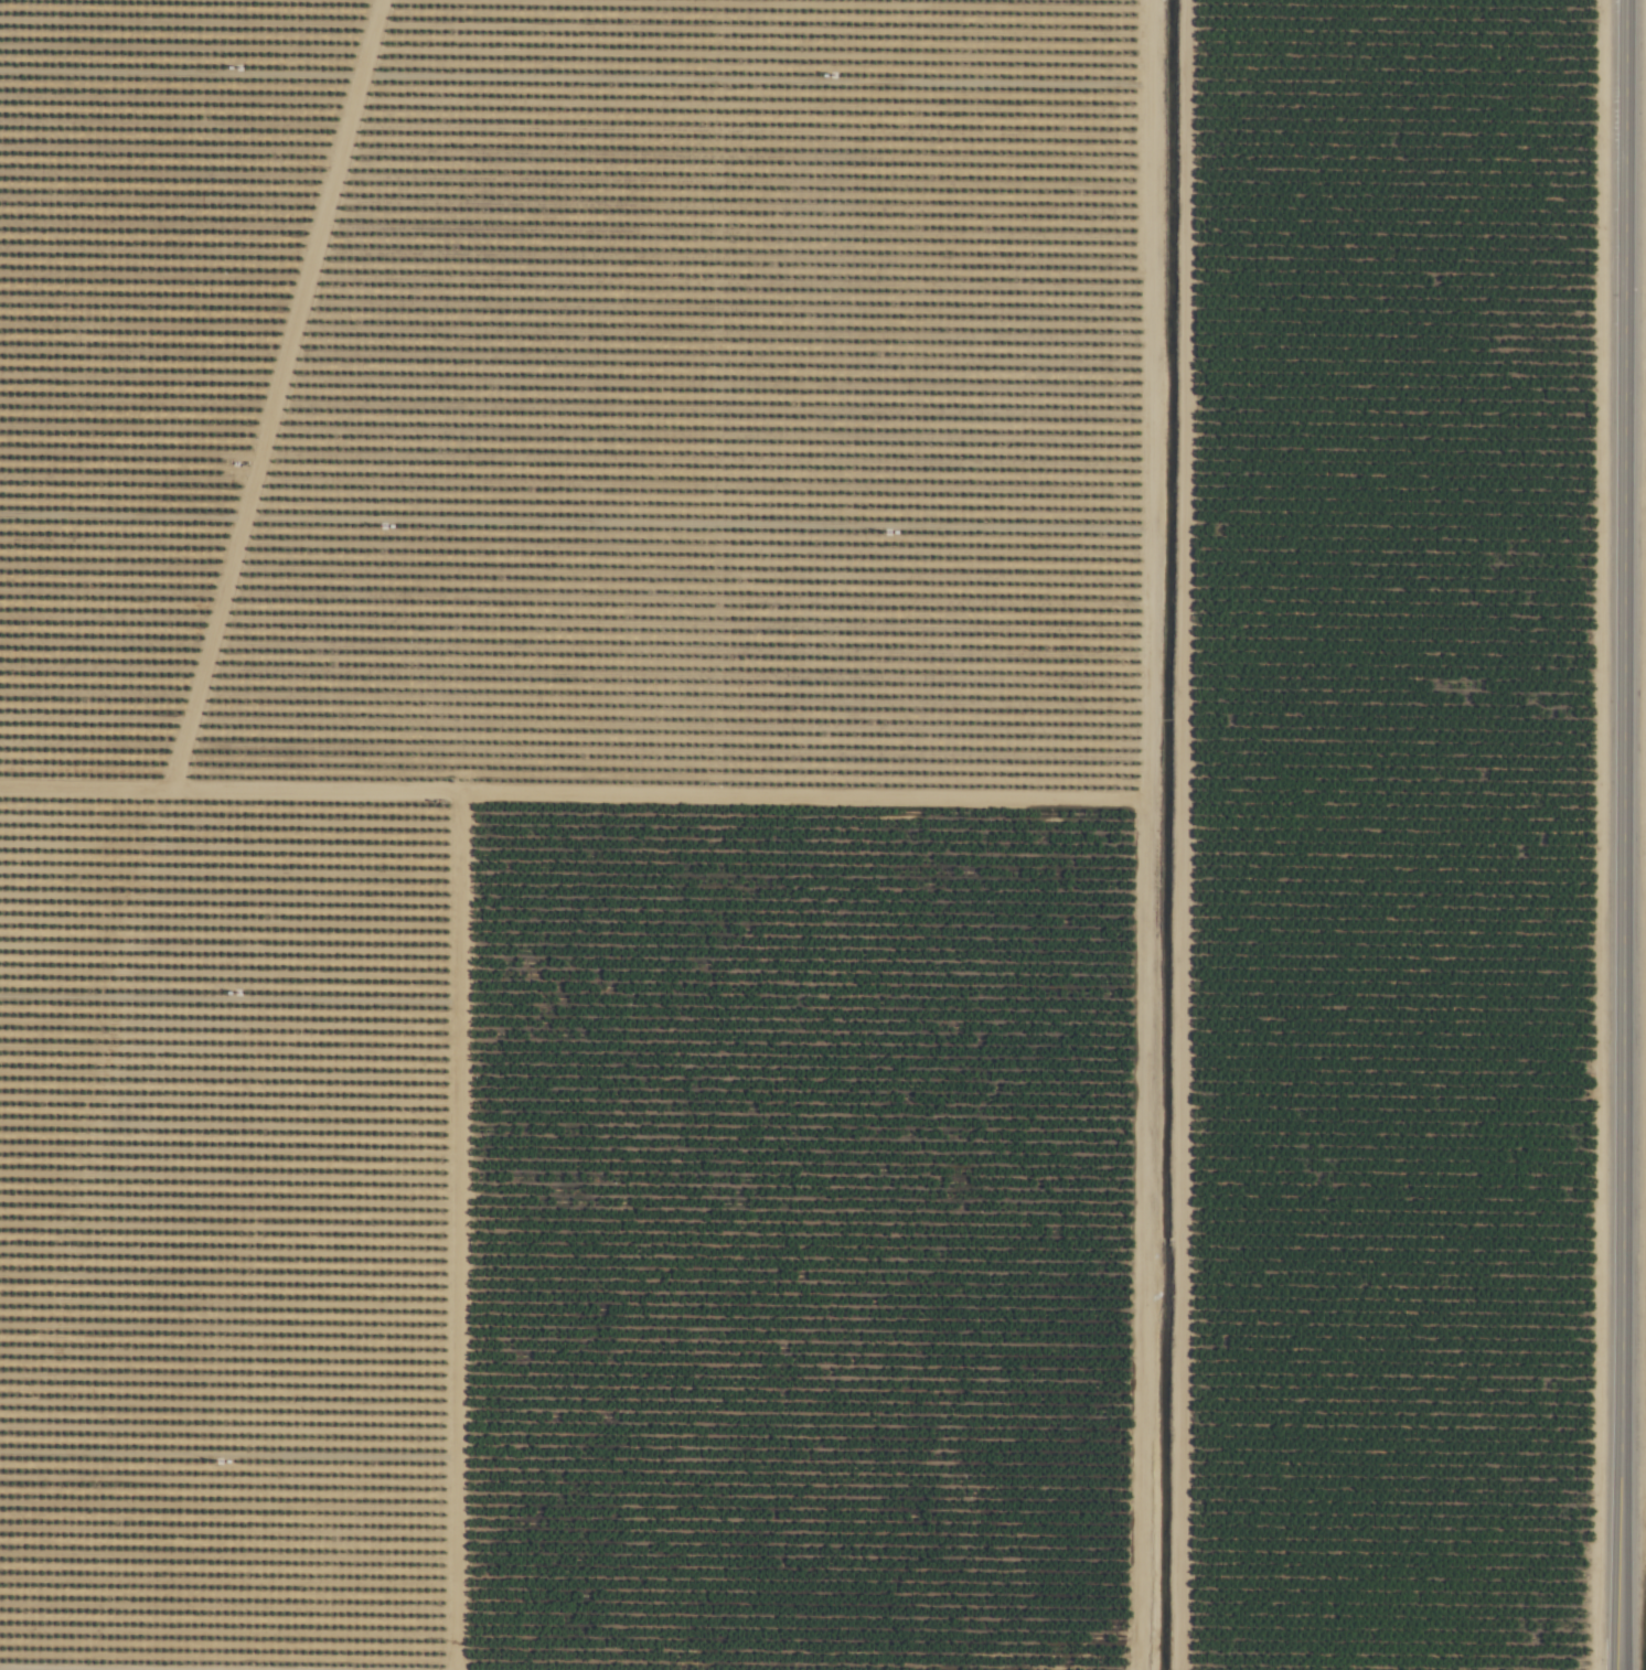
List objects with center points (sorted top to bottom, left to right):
road: (1638, 330)
crop: (119, 518)
road: (1625, 835)

